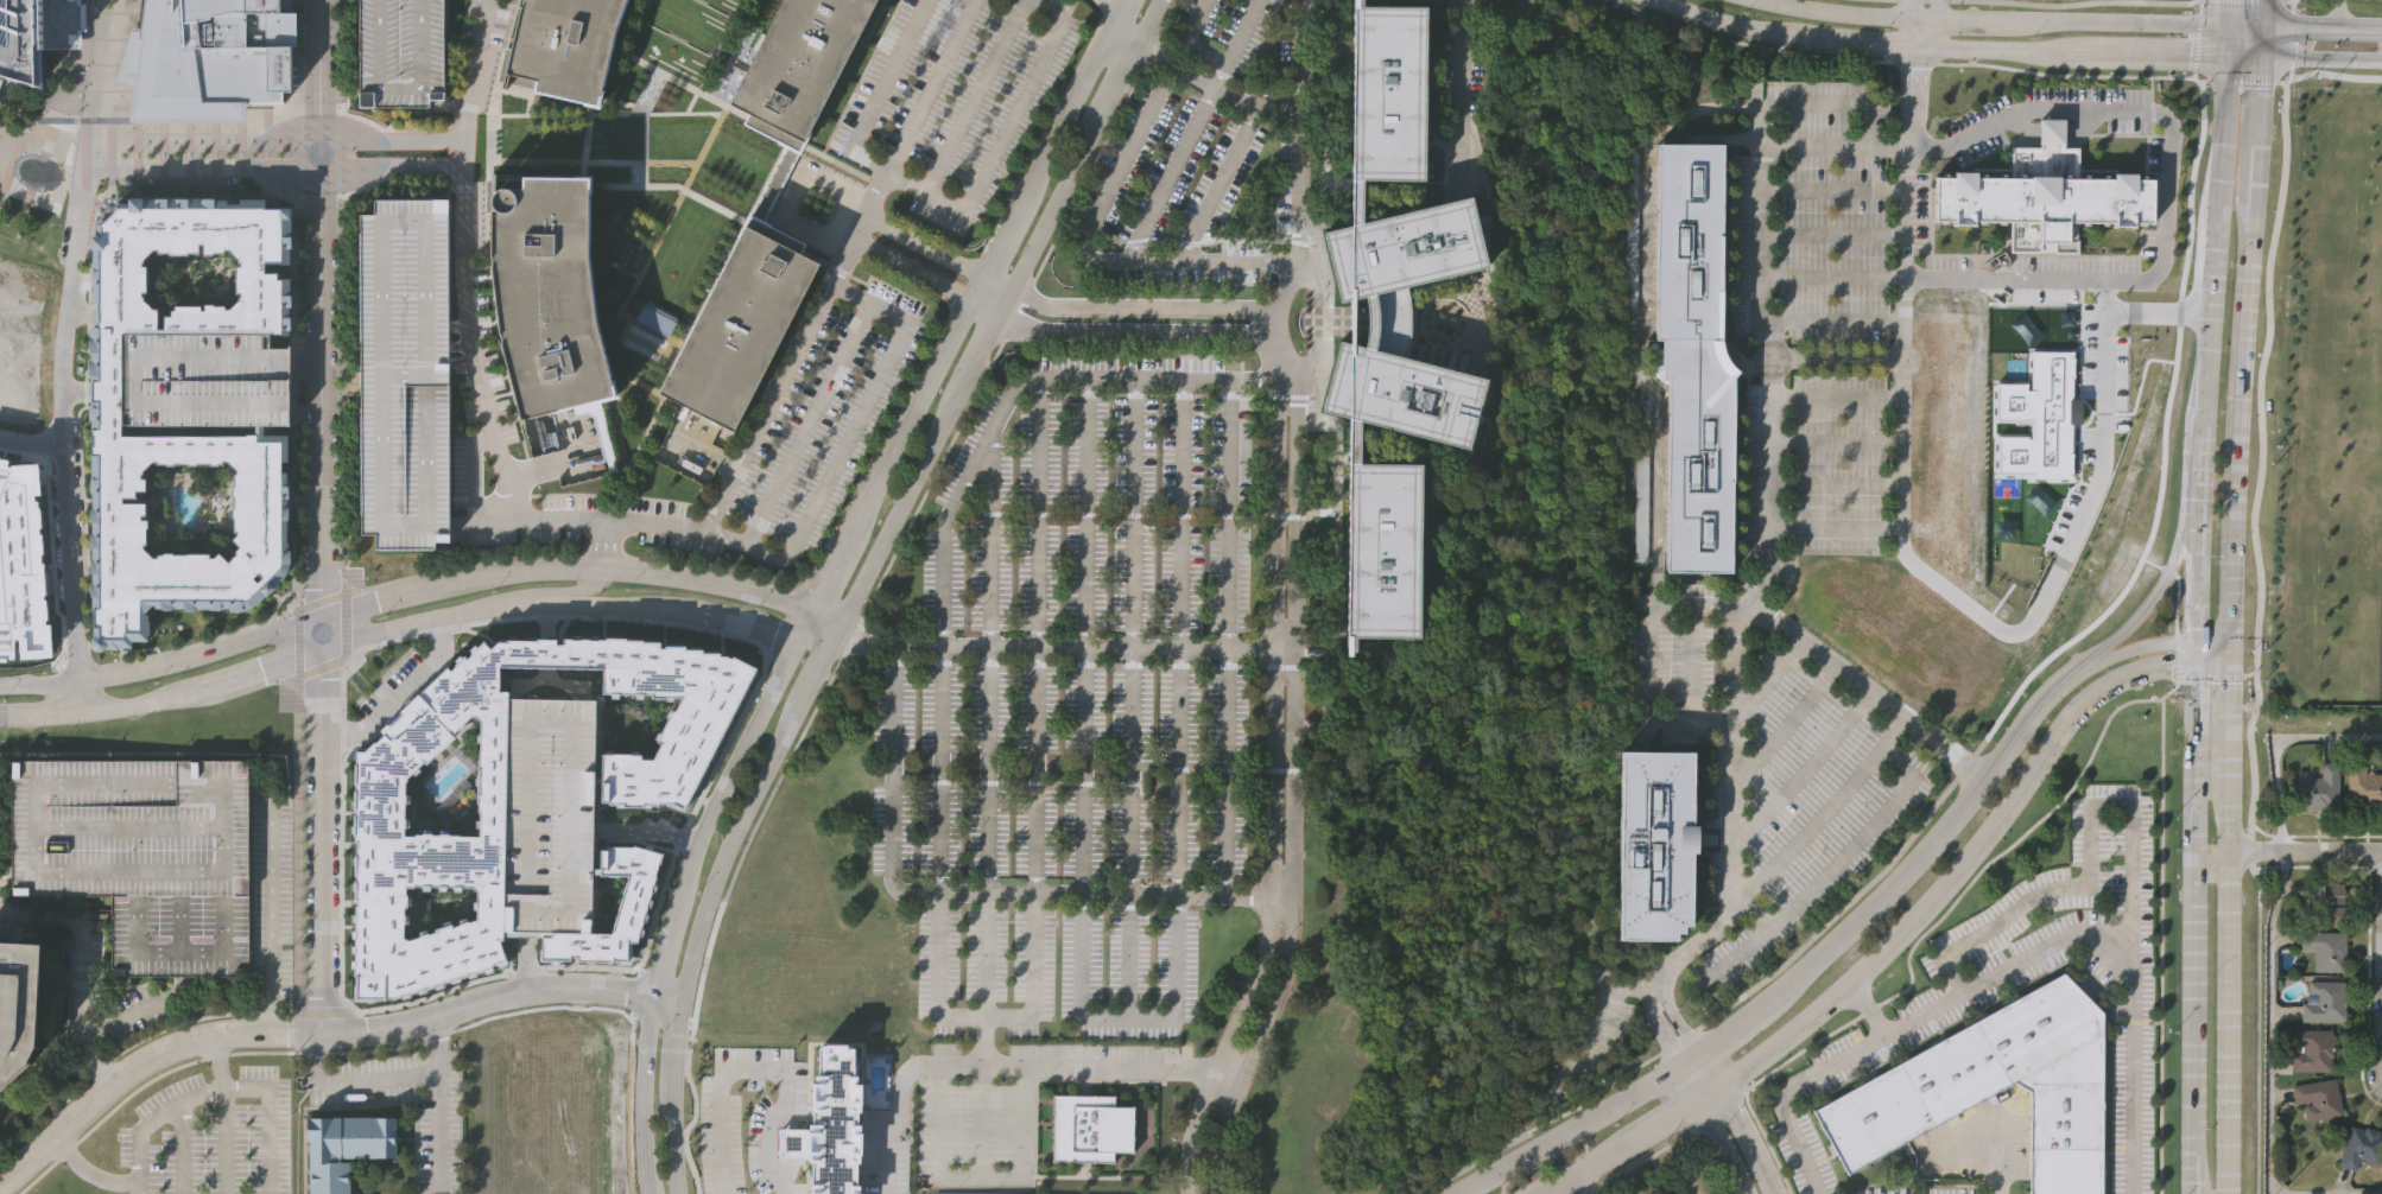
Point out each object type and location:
road: (2283, 1)
road: (1115, 2)
road: (1122, 2)
road: (1624, 4)
road: (2238, 4)
road: (2065, 5)
road: (736, 7)
road: (1637, 8)
road: (1108, 9)
road: (1196, 11)
road: (1831, 12)
road: (2338, 13)
road: (1959, 19)
road: (1166, 20)
road: (1144, 23)
road: (1243, 24)
road: (2121, 24)
road: (1911, 25)
road: (1928, 25)
road: (1126, 26)
road: (1730, 26)
traffic signals: (2229, 27)
traffic signals: (2257, 27)
road: (2305, 27)
road: (2228, 28)
building: (34, 34)
road: (722, 36)
road: (2274, 39)
road: (2200, 42)
building: (562, 45)
road: (620, 45)
road: (1864, 46)
road: (1197, 47)
building: (398, 51)
parking garage: (398, 51)
road: (1988, 51)
road: (2085, 55)
road: (294, 56)
road: (2171, 56)
building: (208, 58)
road: (1147, 58)
traffic signals: (2228, 58)
road: (2242, 58)
traffic signals: (2256, 58)
road: (2319, 62)
building: (797, 63)
road: (1221, 66)
road: (2015, 68)
road: (657, 72)
road: (2240, 72)
road: (1119, 75)
road: (100, 83)
road: (1212, 85)
road: (1459, 91)
building: (1387, 95)
road: (976, 97)
parking lot: (954, 99)
road: (1914, 101)
road: (470, 108)
road: (316, 112)
road: (349, 113)
road: (563, 114)
road: (47, 119)
road: (1043, 135)
road: (280, 140)
road: (1125, 152)
road: (641, 153)
road: (338, 154)
parking lot: (1198, 155)
road: (587, 160)
road: (205, 166)
road: (393, 166)
fountain: (37, 171)
road: (1168, 171)
road: (298, 176)
road: (1085, 180)
road: (1217, 182)
road: (465, 189)
road: (1060, 195)
building: (2044, 196)
road: (954, 205)
road: (1906, 216)
road: (748, 222)
road: (2216, 223)
road: (95, 227)
road: (484, 231)
road: (924, 243)
road: (1179, 260)
road: (911, 268)
road: (2047, 277)
road: (1832, 278)
road: (965, 279)
road: (999, 280)
building: (546, 294)
building: (1198, 294)
road: (819, 301)
road: (1006, 303)
road: (710, 304)
road: (1145, 305)
road: (983, 309)
road: (1016, 311)
road: (2137, 316)
building: (655, 318)
building: (739, 320)
building: (1404, 320)
road: (471, 324)
road: (1139, 331)
road: (342, 334)
road: (2242, 334)
road: (31, 343)
road: (981, 350)
building: (1696, 353)
road: (1831, 356)
road: (308, 361)
building: (404, 373)
parking garage: (404, 373)
building: (207, 380)
parking garage: (207, 380)
road: (1012, 387)
road: (496, 393)
road: (1654, 402)
parking lot: (830, 413)
road: (64, 421)
building: (109, 424)
road: (807, 424)
road: (642, 436)
road: (844, 444)
road: (32, 449)
road: (1282, 449)
road: (707, 455)
road: (550, 459)
road: (475, 470)
road: (1759, 470)
road: (931, 482)
road: (615, 495)
road: (868, 495)
road: (609, 501)
road: (900, 508)
road: (323, 517)
road: (493, 520)
road: (836, 525)
building: (1383, 550)
road: (601, 559)
road: (2059, 563)
road: (2168, 563)
road: (457, 567)
road: (616, 570)
street lamp: (627, 588)
road: (418, 590)
street lamp: (492, 591)
road: (538, 592)
road: (322, 601)
street lamp: (754, 608)
road: (481, 610)
road: (805, 611)
street lamp: (382, 615)
road: (604, 616)
road: (735, 618)
road: (786, 622)
road: (346, 624)
road: (435, 629)
road: (1083, 634)
road: (1177, 634)
road: (1225, 634)
road: (817, 635)
road: (853, 640)
traffic signals: (2198, 640)
road: (2172, 641)
traffic signals: (2229, 641)
road: (299, 642)
road: (382, 643)
street lamp: (743, 644)
road: (886, 644)
road: (1111, 646)
street lamp: (260, 648)
road: (190, 658)
street lamp: (799, 658)
road: (818, 665)
road: (322, 667)
traffic signals: (2198, 667)
traffic signals: (2229, 669)
road: (2082, 671)
road: (252, 673)
road: (1768, 679)
street lamp: (153, 680)
road: (341, 685)
road: (1867, 685)
road: (399, 693)
parking lot: (1073, 694)
street lamp: (2, 696)
road: (83, 696)
road: (1129, 697)
road: (127, 706)
road: (25, 716)
road: (986, 720)
road: (1782, 723)
road: (341, 730)
road: (2016, 732)
road: (730, 733)
road: (2279, 747)
street lamp: (300, 748)
road: (891, 762)
road: (2196, 766)
road: (1803, 770)
street lamp: (300, 776)
building: (448, 786)
building: (2319, 786)
building: (2364, 787)
road: (756, 792)
street lamp: (300, 805)
building: (551, 814)
parking garage: (551, 814)
road: (1819, 814)
building: (381, 821)
road: (647, 830)
street lamp: (300, 833)
road: (1860, 836)
road: (680, 837)
building: (1656, 839)
road: (2085, 847)
road: (2304, 852)
building: (142, 853)
parking garage: (142, 853)
road: (2207, 860)
street lamp: (300, 863)
street lamp: (300, 891)
street lamp: (696, 891)
road: (1082, 891)
road: (270, 895)
road: (1955, 896)
road: (1879, 898)
building: (2327, 900)
building: (634, 906)
building: (439, 907)
road: (720, 914)
street lamp: (302, 920)
road: (1031, 925)
road: (2225, 931)
road: (1900, 934)
road: (2082, 936)
road: (1753, 941)
road: (2159, 946)
street lamp: (302, 948)
road: (693, 948)
building: (2325, 948)
road: (642, 955)
road: (342, 960)
road: (524, 961)
road: (82, 967)
road: (638, 967)
road: (524, 971)
street lamp: (302, 978)
building: (28, 990)
road: (635, 991)
building: (2325, 1002)
road: (533, 1008)
road: (329, 1011)
road: (287, 1012)
road: (629, 1016)
road: (1675, 1016)
road: (125, 1018)
road: (1127, 1018)
road: (2270, 1022)
road: (1665, 1023)
road: (1729, 1031)
road: (318, 1034)
street lamp: (657, 1034)
road: (673, 1036)
road: (981, 1040)
road: (1218, 1043)
road: (1253, 1046)
street lamp: (412, 1049)
building: (2312, 1049)
road: (205, 1056)
street lamp: (289, 1056)
street lamp: (372, 1056)
street lamp: (338, 1059)
road: (1689, 1061)
road: (218, 1062)
road: (994, 1066)
road: (756, 1071)
road: (353, 1082)
building: (1996, 1085)
road: (220, 1091)
road: (1786, 1092)
road: (641, 1097)
building: (2318, 1098)
road: (439, 1106)
road: (1715, 1110)
building: (829, 1119)
road: (978, 1122)
road: (1740, 1123)
building: (1090, 1128)
road: (1712, 1130)
road: (676, 1131)
road: (1567, 1131)
parking lot: (974, 1132)
parking lot: (210, 1136)
road: (224, 1142)
road: (1668, 1143)
building: (343, 1147)
building: (2361, 1147)
road: (182, 1148)
street lamp: (660, 1167)
road: (2194, 1168)
road: (89, 1173)
road: (977, 1179)
road: (1570, 1186)

